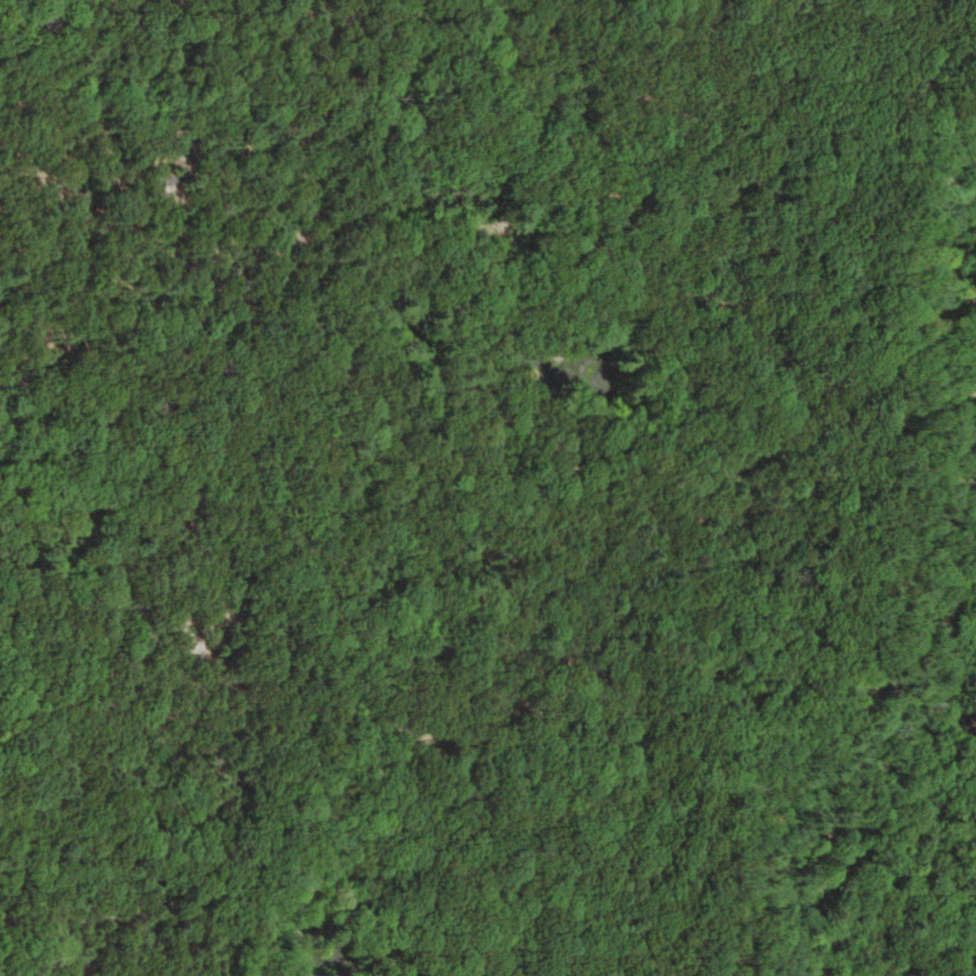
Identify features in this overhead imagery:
park: (488, 488)
road: (406, 489)
road: (873, 540)
road: (292, 603)
road: (160, 744)

